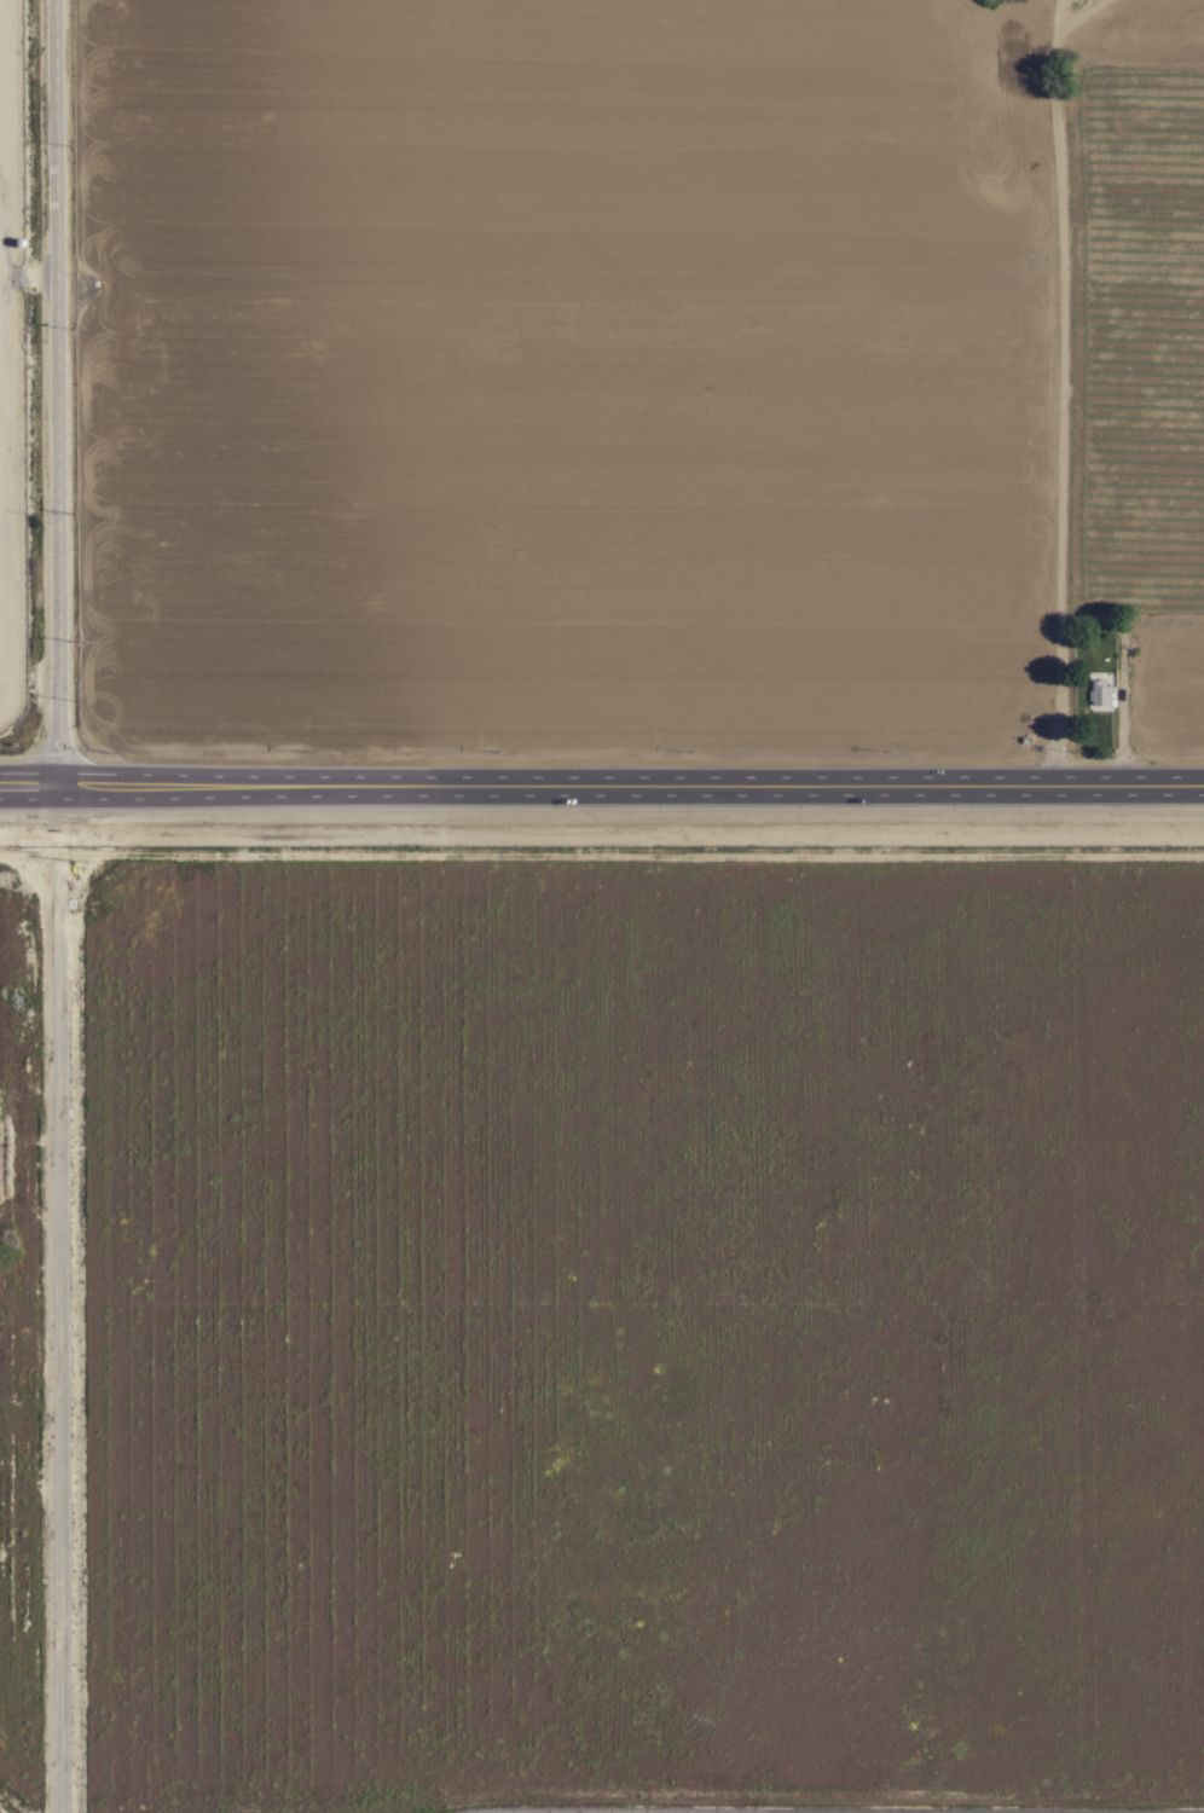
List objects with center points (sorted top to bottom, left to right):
solar farm: (11, 367)
road: (36, 394)
crop: (594, 394)
road: (1060, 398)
building: (1102, 695)
road: (602, 792)

